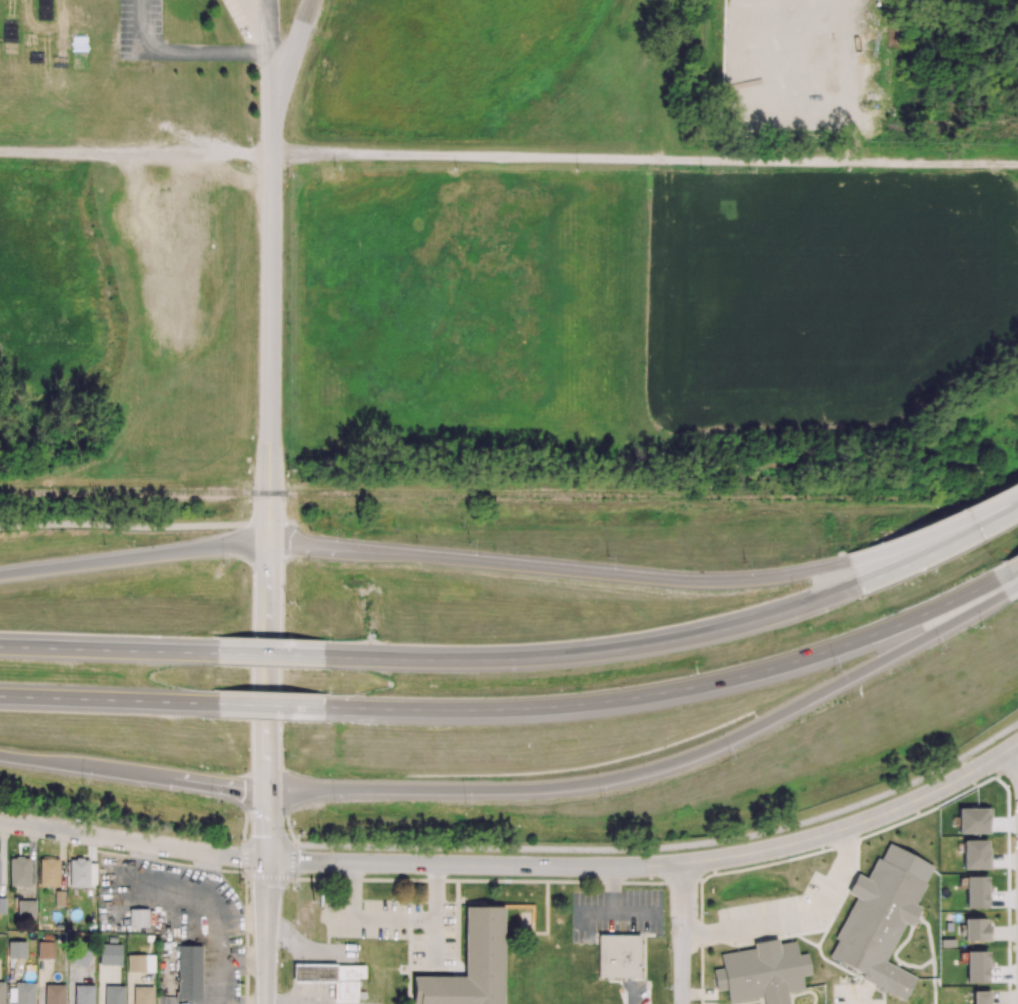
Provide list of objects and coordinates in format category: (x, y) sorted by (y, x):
road: (183, 48)
road: (291, 60)
road: (270, 61)
road: (135, 156)
road: (644, 158)
crop: (828, 293)
road: (268, 323)
road: (134, 525)
road: (932, 530)
road: (269, 534)
road: (287, 535)
road: (938, 548)
road: (134, 557)
road: (556, 568)
road: (1010, 568)
road: (1013, 586)
road: (109, 650)
road: (596, 650)
road: (274, 656)
road: (268, 657)
road: (675, 692)
road: (110, 701)
road: (274, 706)
road: (1012, 763)
road: (659, 768)
road: (133, 775)
road: (249, 804)
road: (286, 804)
road: (268, 815)
road: (133, 843)
road: (269, 844)
road: (669, 847)
traffic signals: (268, 860)
road: (655, 866)
road: (794, 916)
road: (393, 917)
road: (267, 931)
road: (685, 934)
road: (297, 963)
road: (857, 998)
road: (287, 1003)

